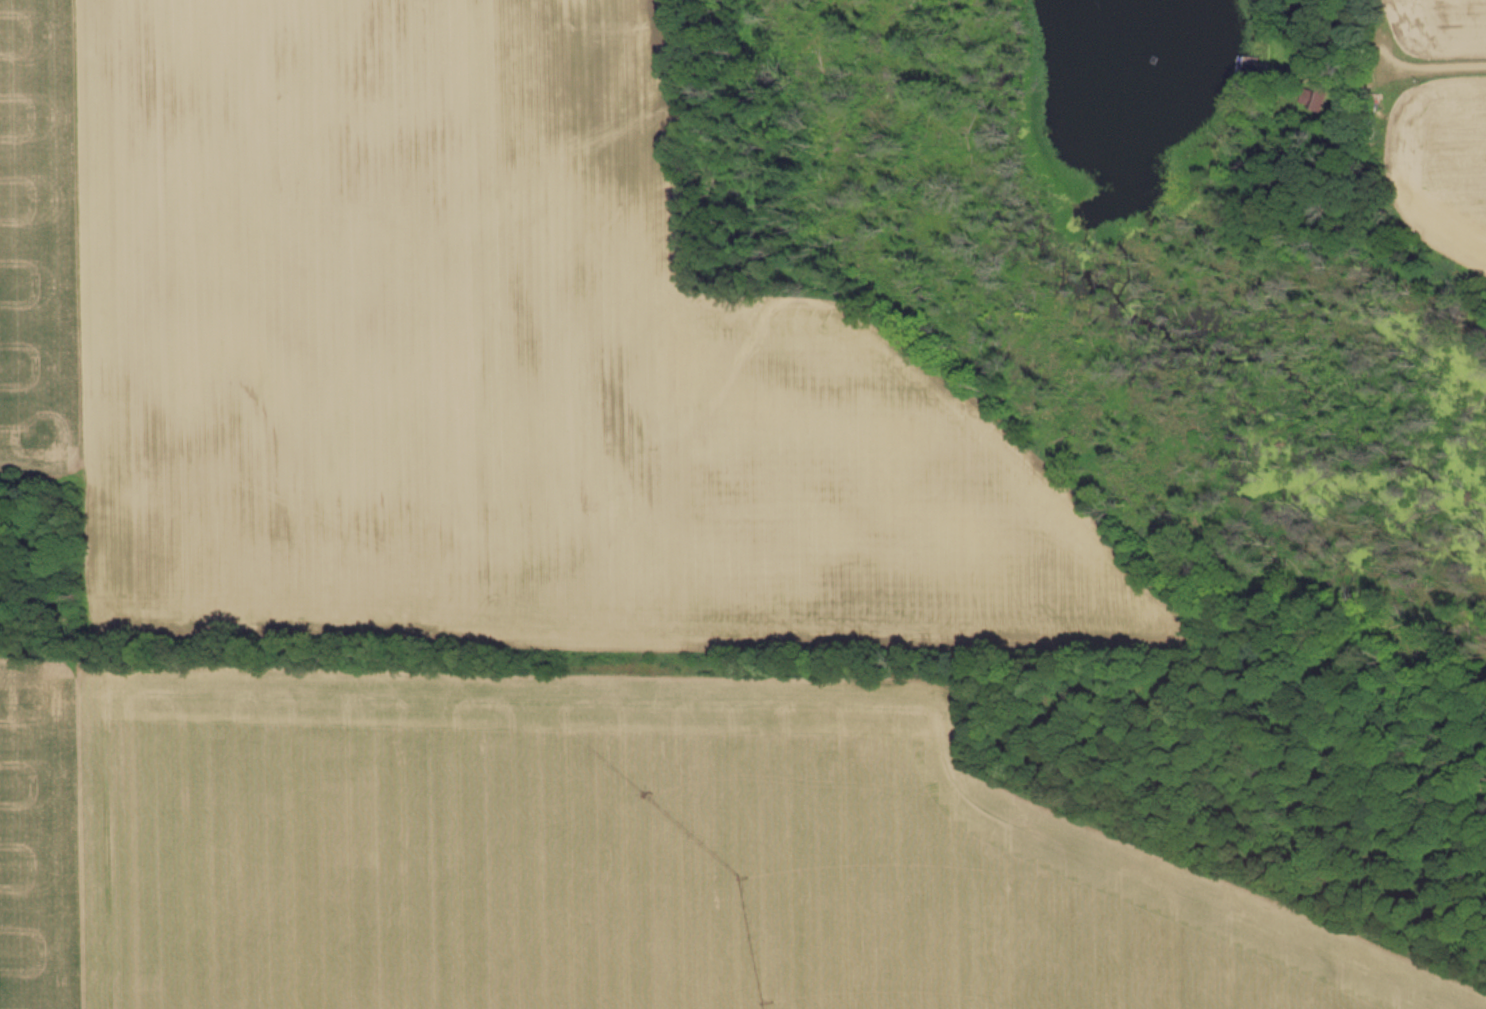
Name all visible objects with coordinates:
road: (1443, 68)
building: (1312, 97)
crop: (473, 355)
crop: (591, 857)

